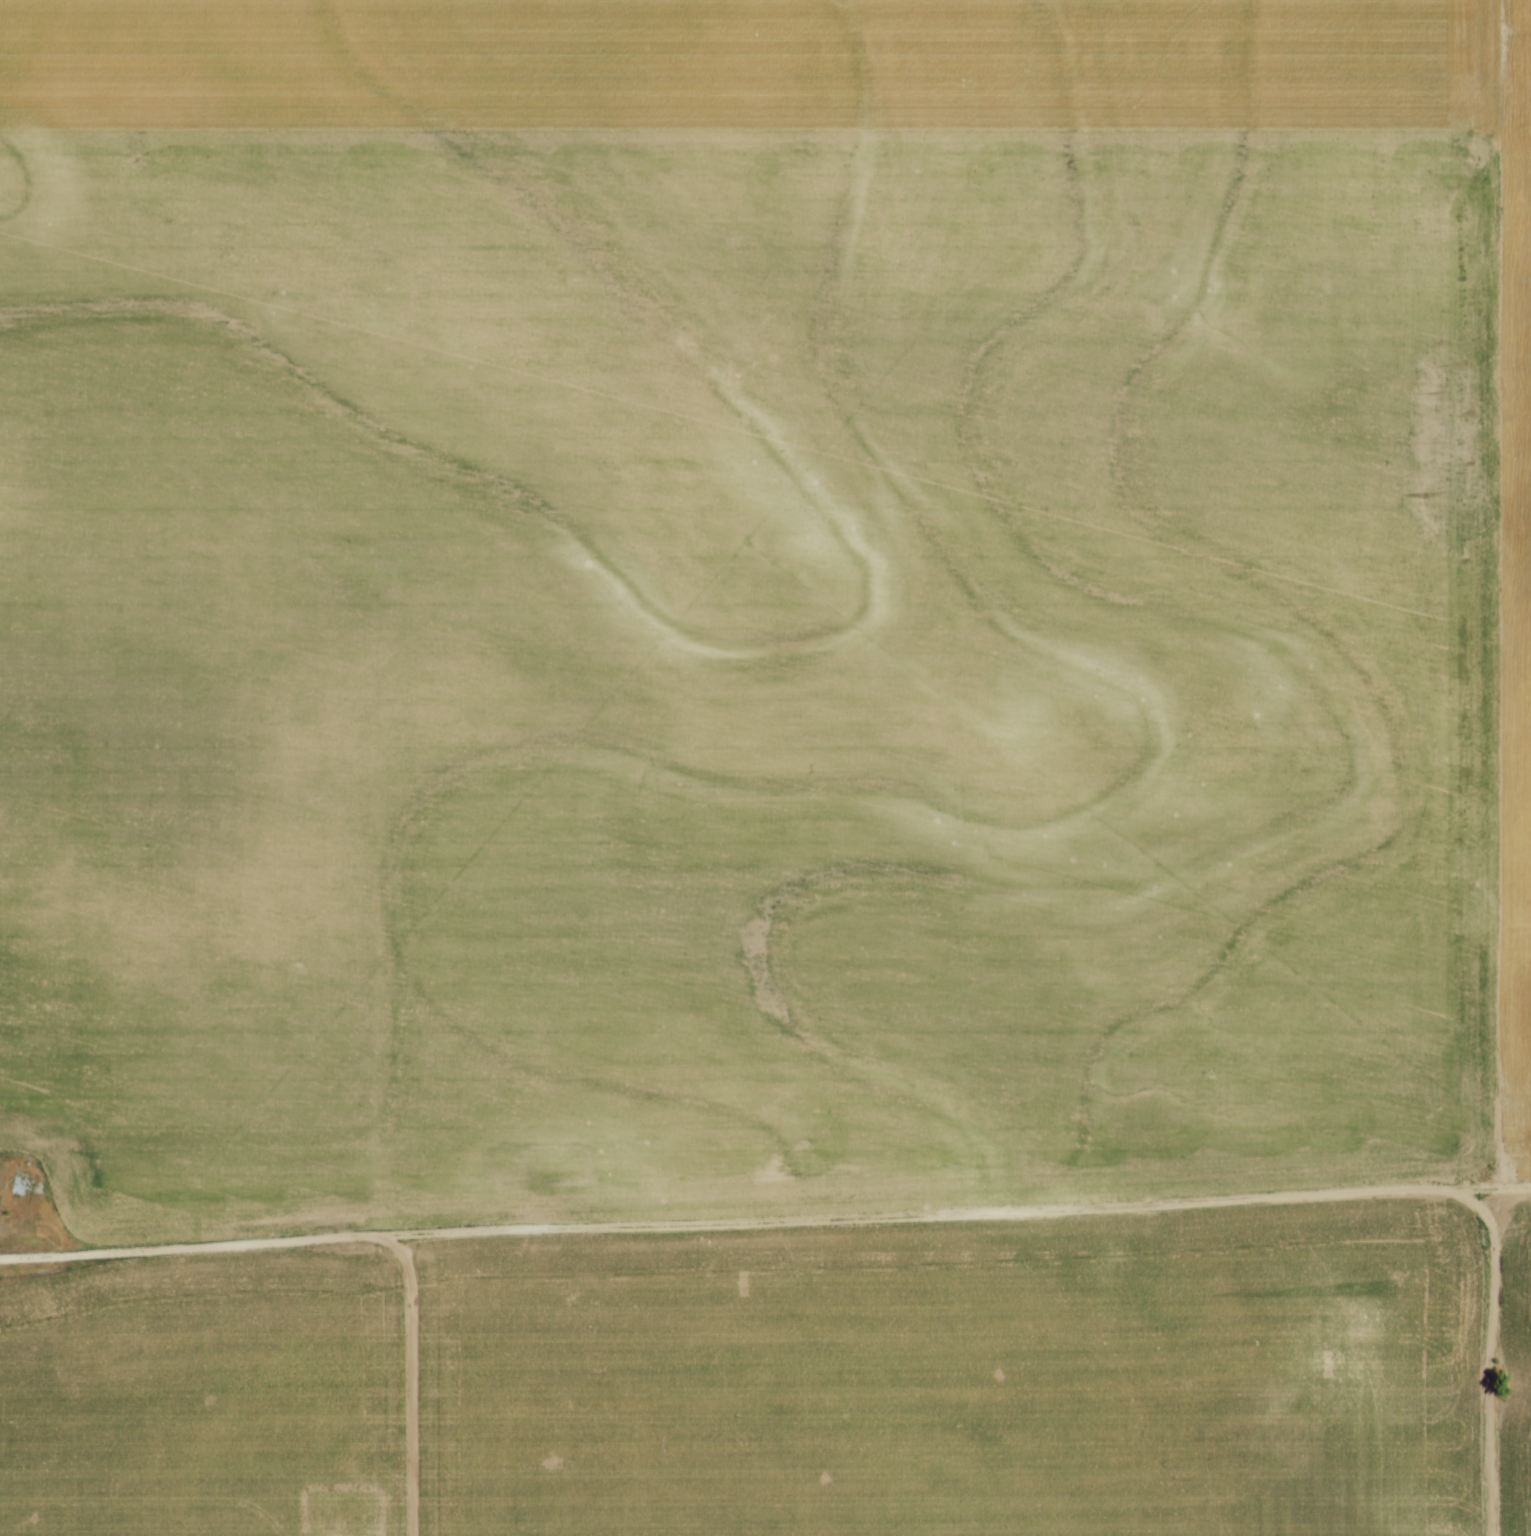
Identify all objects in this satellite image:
crop: (759, 603)
building: (20, 1181)
road: (765, 1219)
road: (1490, 1345)
road: (409, 1378)
crop: (797, 1382)

